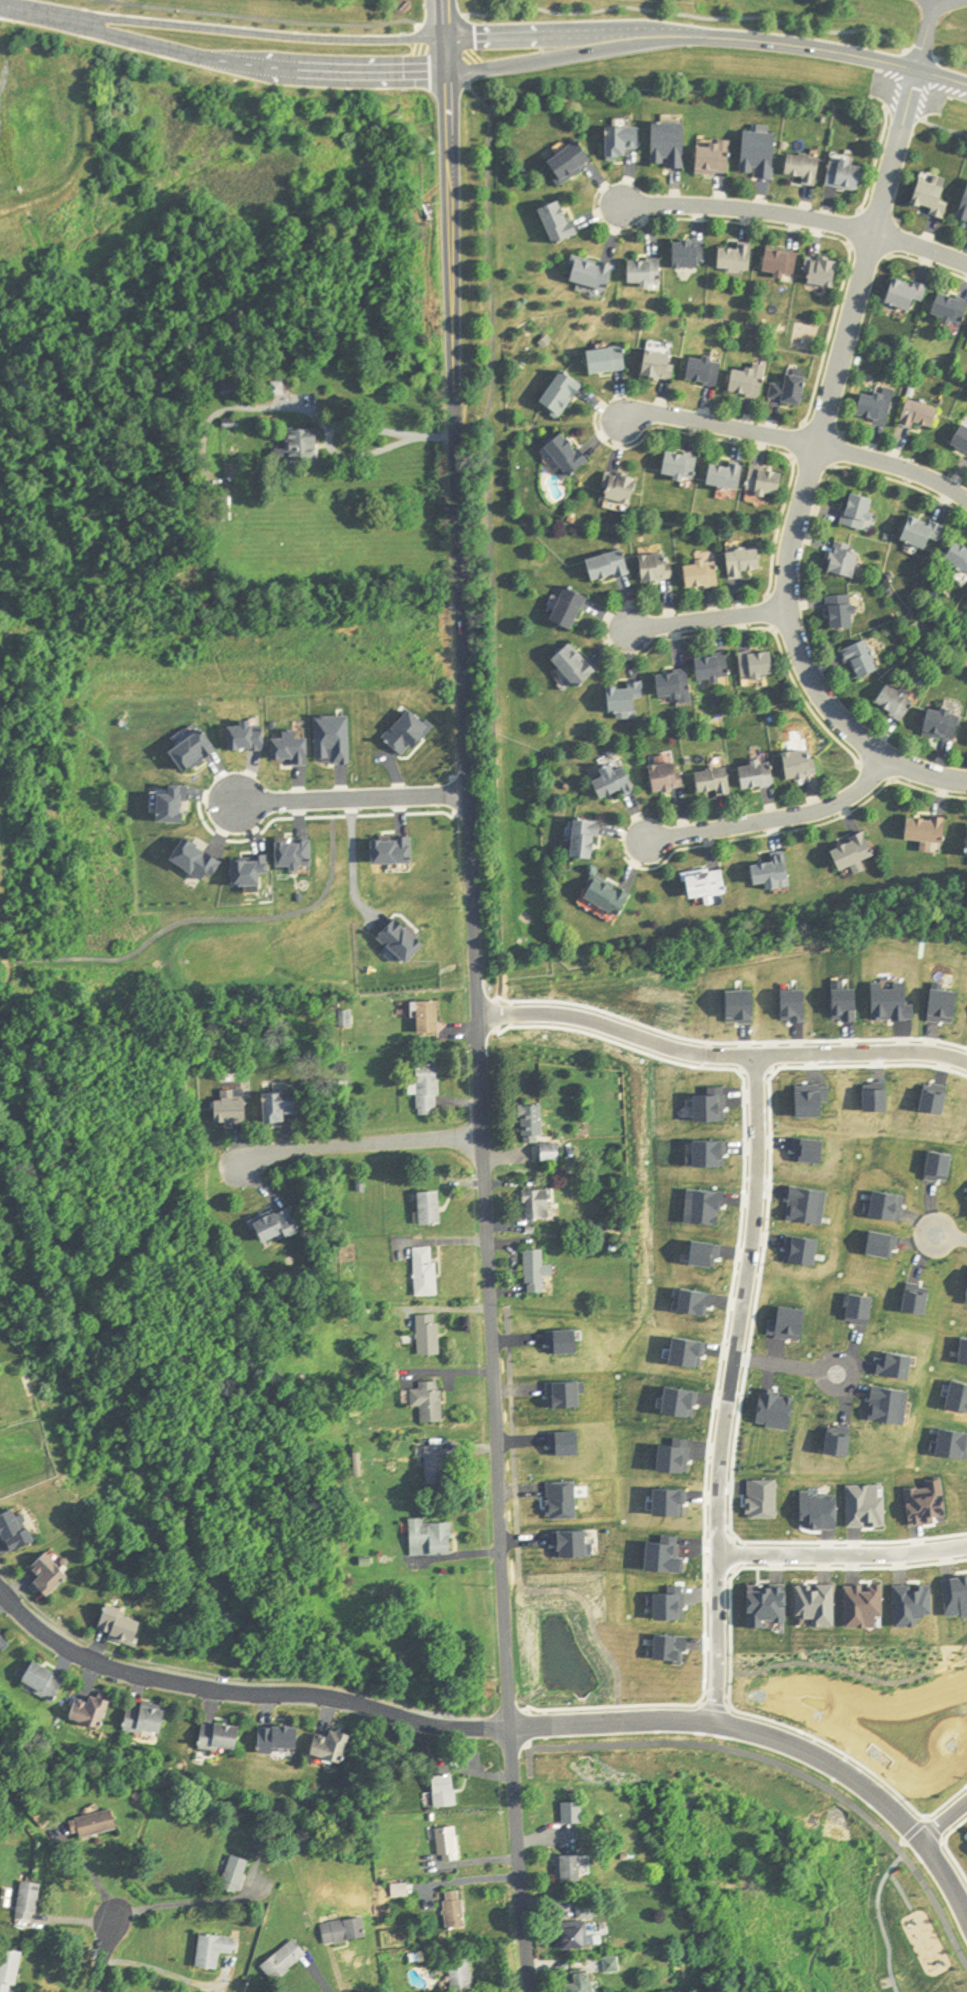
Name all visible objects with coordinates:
road: (29, 10)
road: (261, 17)
park: (775, 19)
road: (930, 20)
road: (250, 33)
road: (553, 36)
road: (817, 51)
road: (554, 56)
road: (248, 63)
road: (907, 114)
road: (947, 129)
building: (627, 141)
building: (673, 144)
building: (763, 154)
building: (716, 157)
road: (878, 160)
building: (574, 162)
building: (807, 167)
building: (848, 173)
building: (934, 197)
road: (748, 209)
building: (964, 211)
building: (562, 221)
road: (793, 230)
road: (921, 248)
building: (689, 254)
road: (889, 256)
building: (738, 257)
building: (784, 262)
road: (929, 265)
building: (647, 271)
building: (827, 271)
building: (595, 272)
building: (909, 293)
building: (953, 308)
building: (611, 360)
building: (662, 365)
building: (707, 371)
building: (749, 383)
building: (228, 387)
building: (792, 390)
building: (565, 394)
building: (877, 407)
building: (922, 414)
road: (340, 425)
road: (721, 426)
road: (842, 434)
building: (306, 445)
road: (744, 445)
building: (572, 453)
building: (683, 466)
road: (895, 466)
road: (811, 471)
building: (729, 476)
building: (768, 483)
road: (903, 484)
building: (626, 488)
building: (861, 512)
building: (924, 532)
road: (491, 538)
building: (960, 554)
building: (747, 562)
building: (848, 562)
building: (613, 566)
building: (659, 568)
building: (704, 574)
building: (573, 609)
building: (846, 612)
road: (774, 613)
road: (709, 620)
road: (764, 628)
building: (864, 660)
building: (579, 665)
building: (761, 665)
building: (717, 669)
building: (677, 685)
building: (628, 699)
building: (898, 702)
building: (945, 724)
building: (803, 766)
road: (880, 773)
building: (760, 776)
building: (670, 778)
building: (618, 780)
building: (718, 782)
road: (351, 796)
road: (778, 818)
road: (801, 830)
building: (931, 830)
building: (591, 839)
building: (857, 853)
road: (351, 858)
building: (776, 874)
building: (710, 885)
building: (612, 896)
road: (475, 922)
building: (429, 1018)
road: (729, 1041)
road: (720, 1055)
road: (755, 1073)
building: (429, 1091)
building: (283, 1107)
road: (769, 1110)
building: (540, 1134)
road: (363, 1148)
building: (540, 1206)
building: (432, 1210)
building: (279, 1227)
road: (951, 1236)
building: (428, 1273)
building: (537, 1273)
building: (431, 1337)
road: (721, 1349)
road: (747, 1358)
road: (785, 1365)
road: (728, 1390)
building: (432, 1402)
building: (438, 1467)
building: (16, 1533)
building: (432, 1539)
road: (766, 1540)
road: (734, 1554)
road: (843, 1554)
building: (50, 1577)
building: (861, 1591)
building: (803, 1592)
building: (912, 1592)
building: (698, 1594)
building: (122, 1632)
building: (3, 1646)
road: (730, 1660)
building: (45, 1681)
road: (241, 1697)
road: (714, 1704)
building: (93, 1709)
building: (148, 1718)
building: (222, 1736)
building: (282, 1738)
road: (774, 1741)
building: (334, 1744)
building: (446, 1791)
building: (574, 1812)
road: (922, 1818)
road: (942, 1820)
building: (95, 1823)
building: (271, 1842)
building: (449, 1843)
road: (945, 1846)
building: (572, 1867)
building: (239, 1873)
building: (30, 1900)
road: (176, 1904)
building: (457, 1910)
road: (523, 1918)
building: (581, 1928)
building: (348, 1930)
building: (216, 1949)
road: (101, 1960)
building: (288, 1960)
building: (10, 1969)
building: (464, 1974)
building: (583, 1983)

